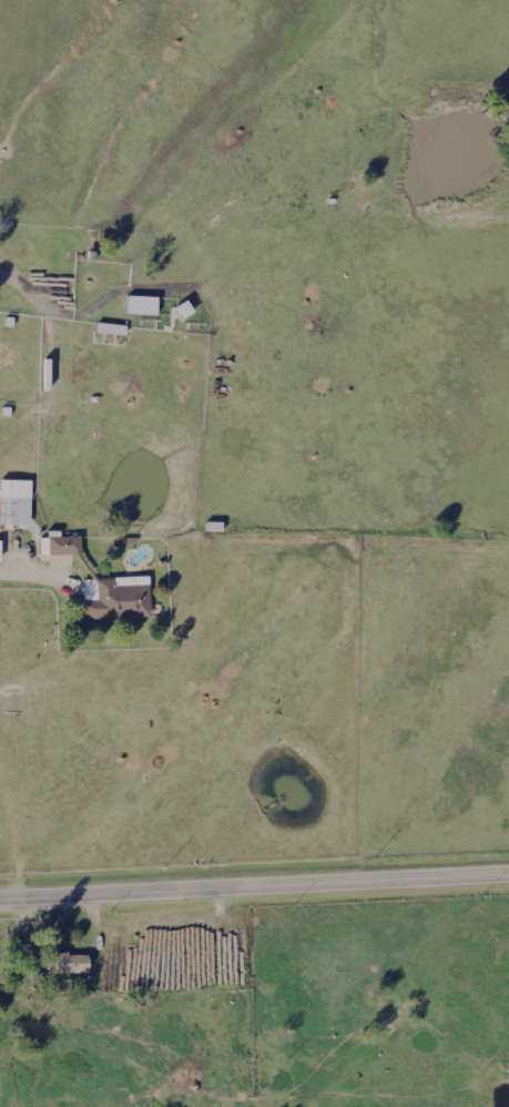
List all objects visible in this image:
building: (113, 331)
building: (42, 378)
building: (13, 506)
building: (57, 549)
building: (1, 552)
road: (33, 575)
building: (112, 601)
road: (254, 887)
building: (62, 966)

